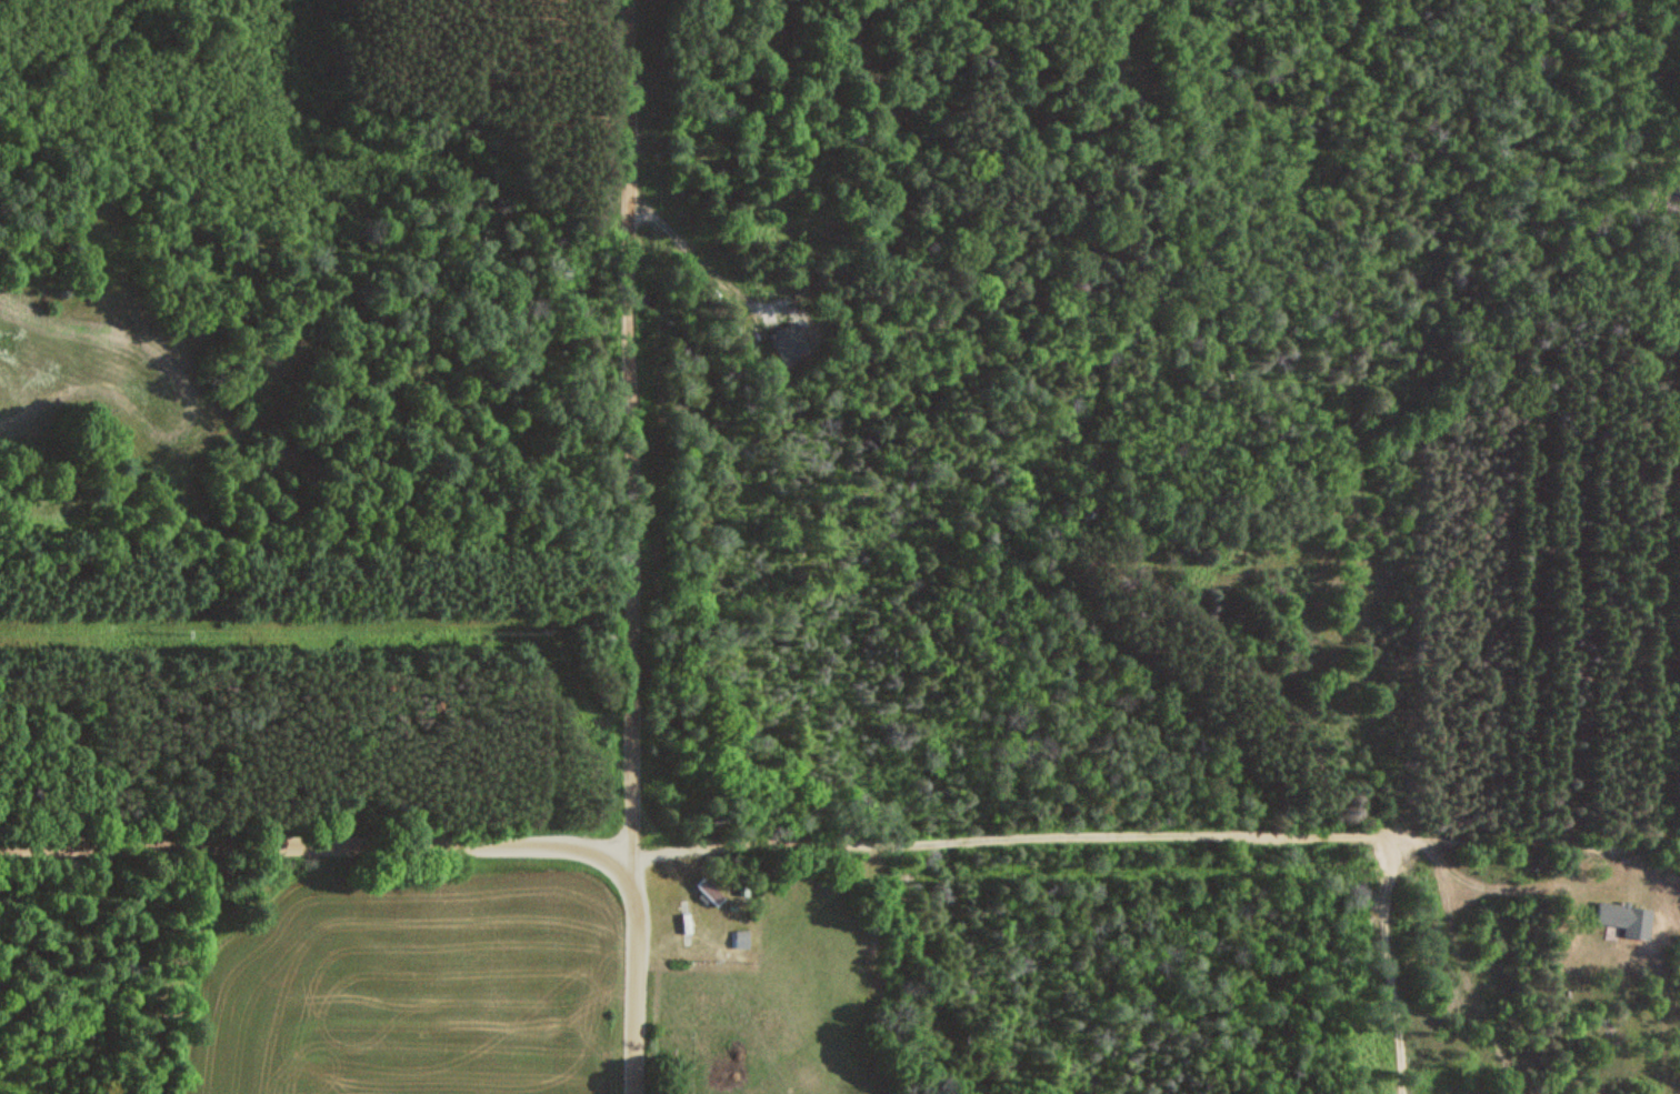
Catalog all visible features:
road: (661, 546)
road: (839, 837)
building: (1626, 919)

